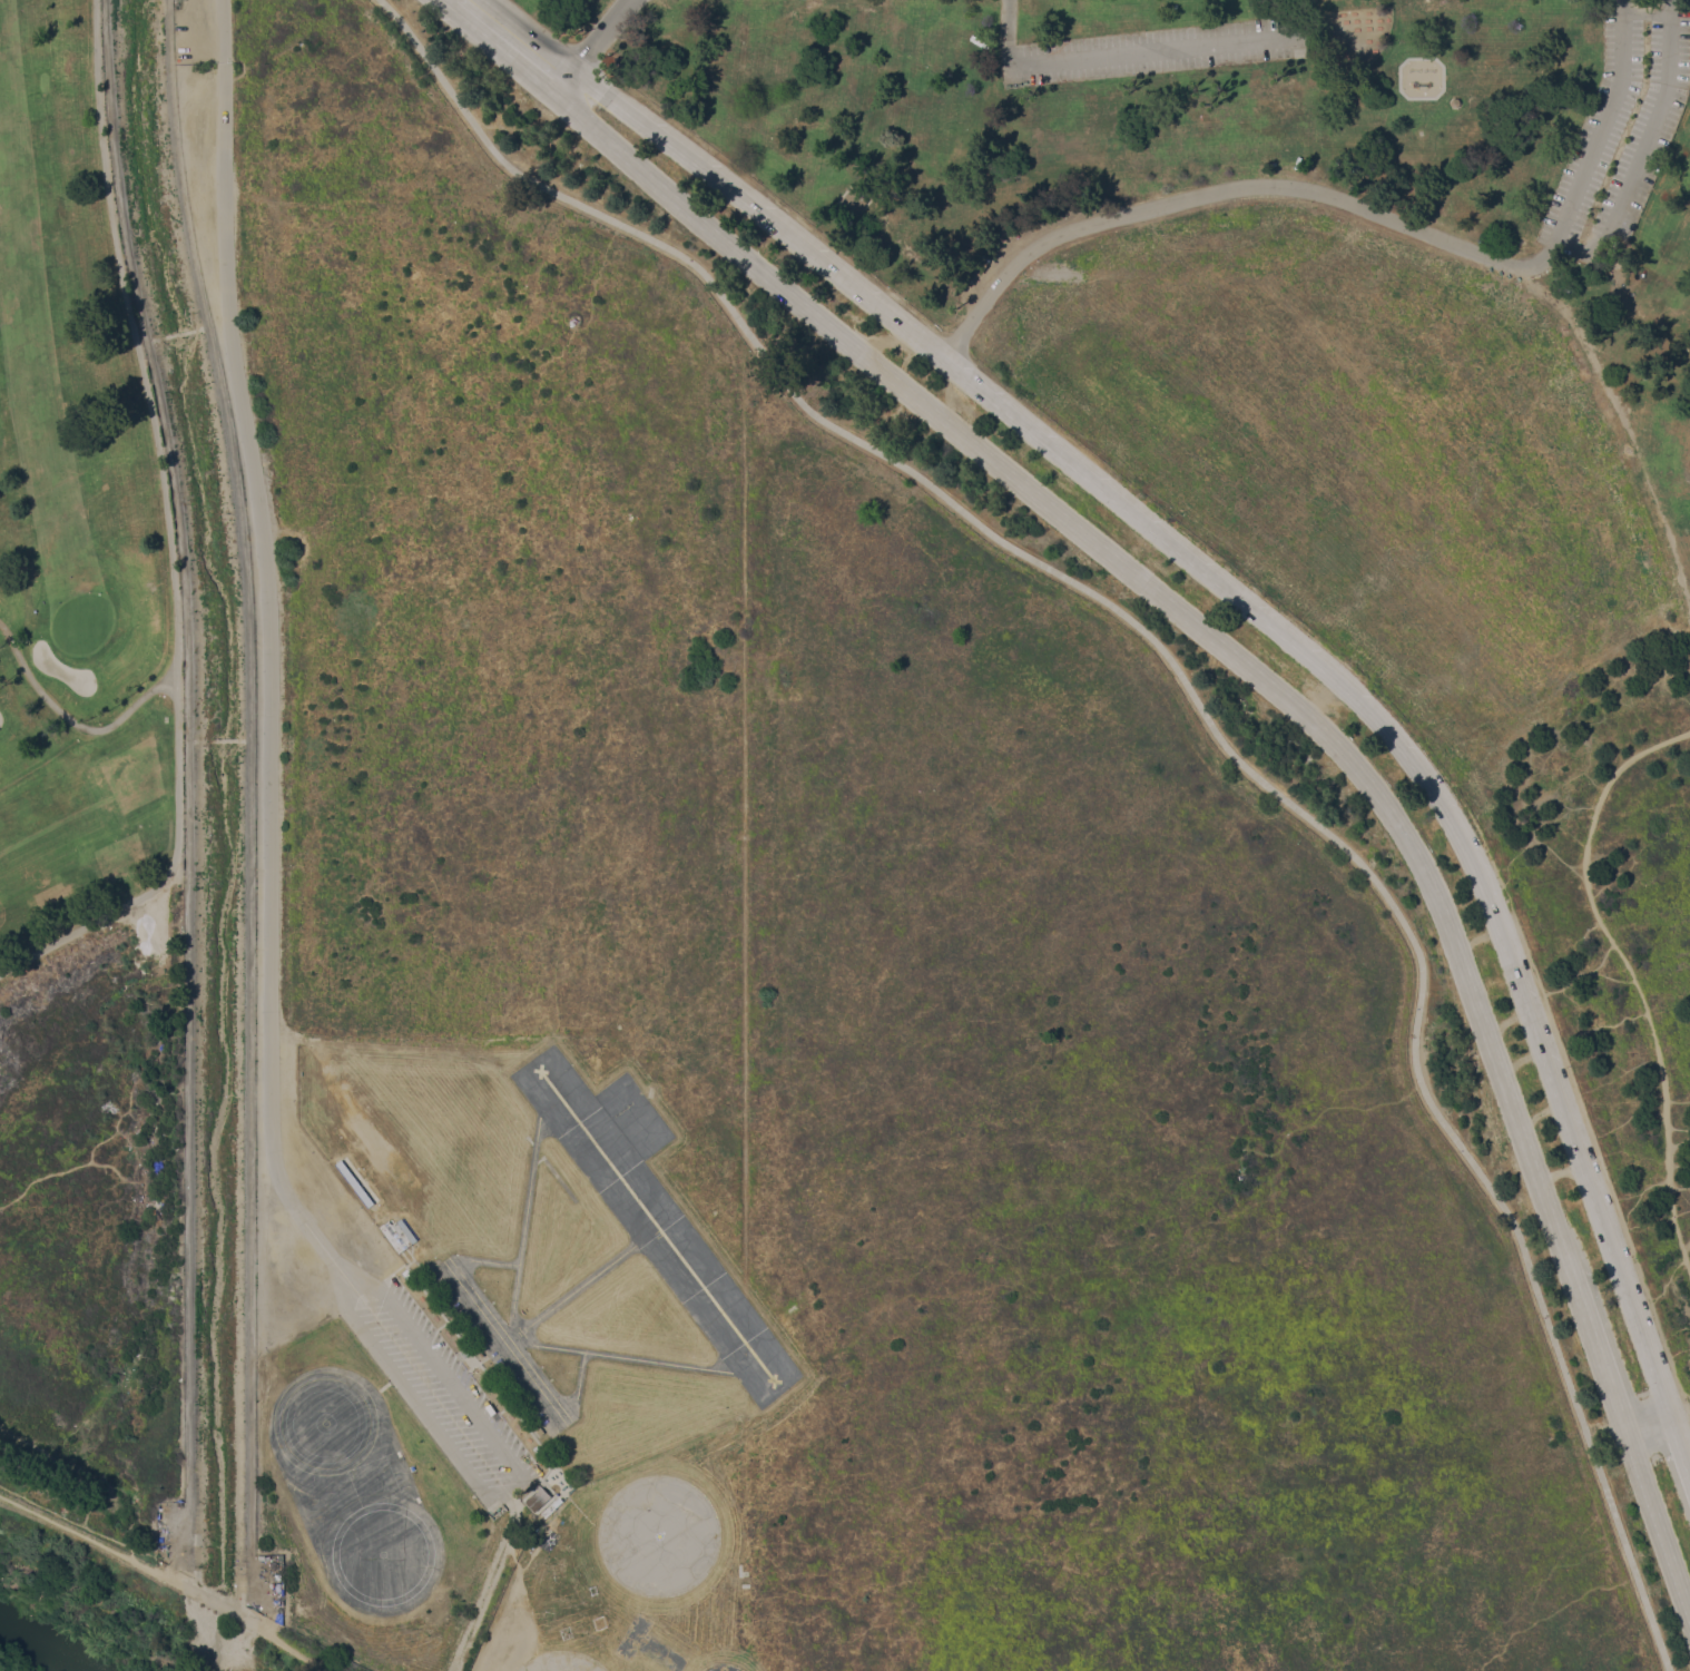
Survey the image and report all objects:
parking lot: (196, 30)
road: (592, 46)
parking lot: (1157, 50)
road: (1140, 52)
parking lot: (1622, 139)
road: (1641, 149)
building: (852, 200)
road: (1356, 206)
park: (1274, 268)
road: (1622, 430)
park: (77, 518)
road: (169, 531)
road: (1230, 589)
road: (266, 638)
road: (1260, 672)
road: (1199, 708)
road: (71, 720)
road: (188, 786)
road: (250, 812)
road: (743, 822)
park: (845, 835)
road: (1632, 975)
airport apron: (623, 1123)
airport taxiway: (525, 1198)
airport runway: (655, 1223)
building: (403, 1233)
airport taxiway: (487, 1260)
road: (356, 1276)
airport taxiway: (588, 1279)
road: (343, 1286)
road: (1608, 1331)
airport apron: (504, 1347)
building: (464, 1353)
airport taxiway: (649, 1360)
airport taxiway: (578, 1376)
road: (450, 1386)
parking lot: (443, 1397)
road: (422, 1406)
road: (1680, 1412)
road: (1607, 1428)
road: (1680, 1443)
road: (1669, 1464)
road: (508, 1492)
building: (537, 1498)
helipad: (658, 1536)
road: (166, 1575)
river: (43, 1647)

